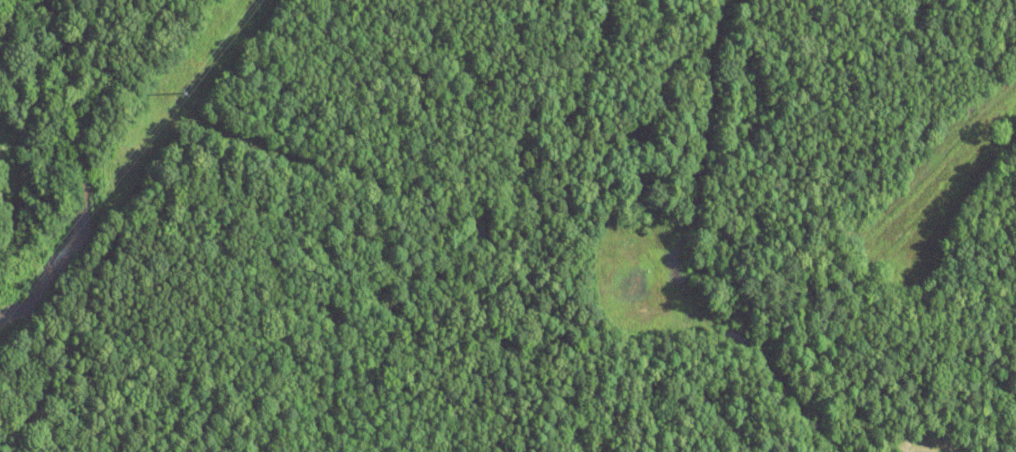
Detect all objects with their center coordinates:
power tower: (179, 89)

